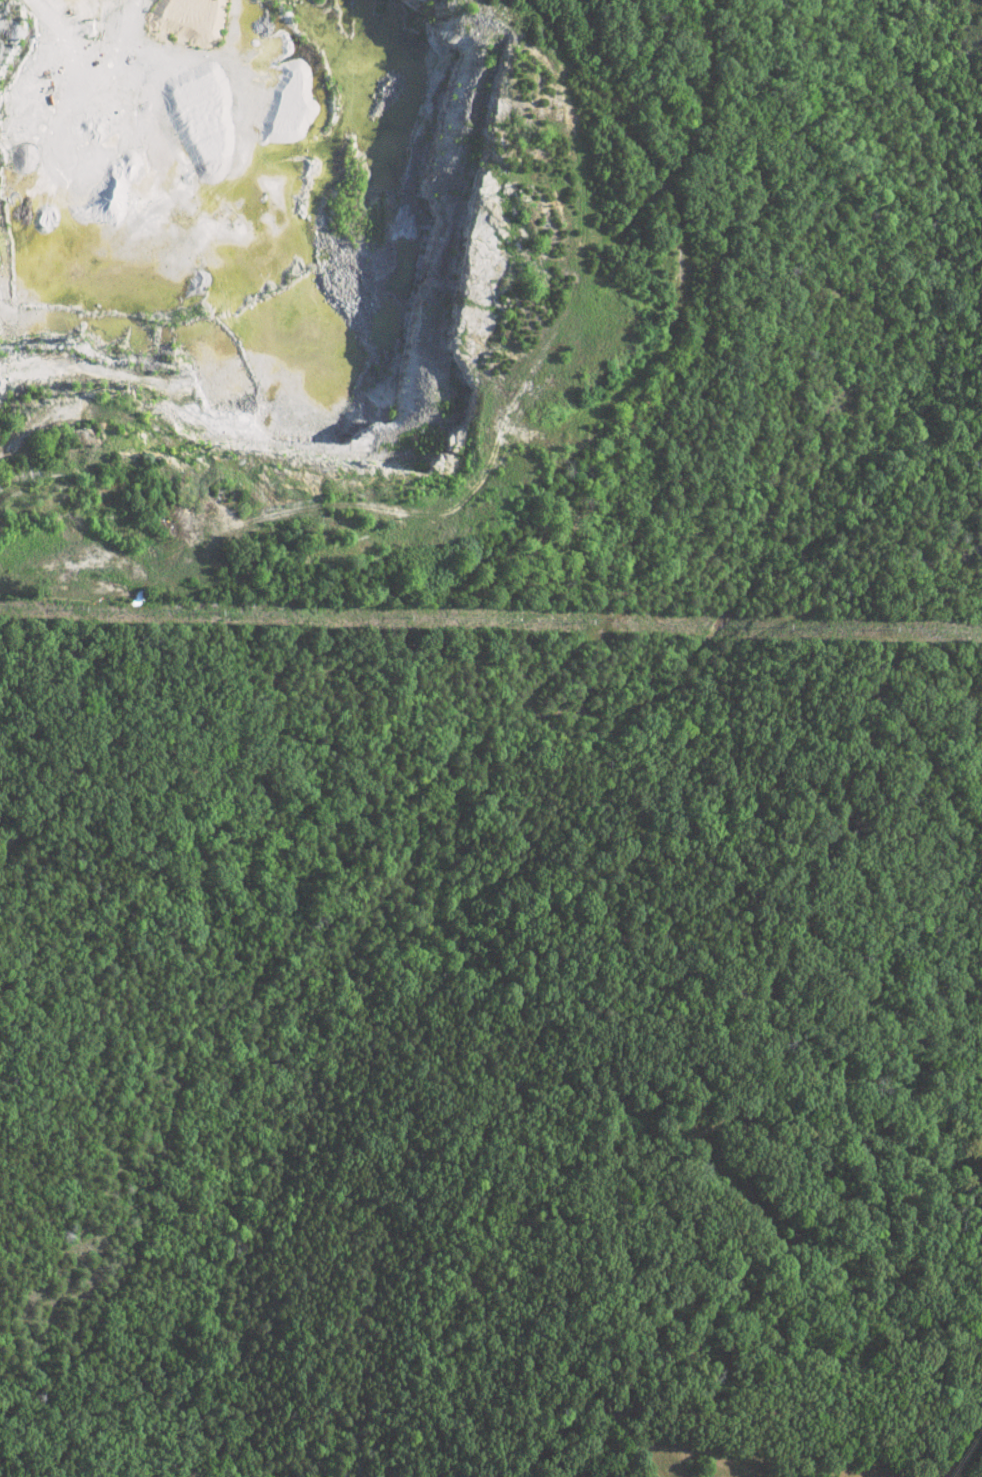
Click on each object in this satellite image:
quarry: (296, 267)

